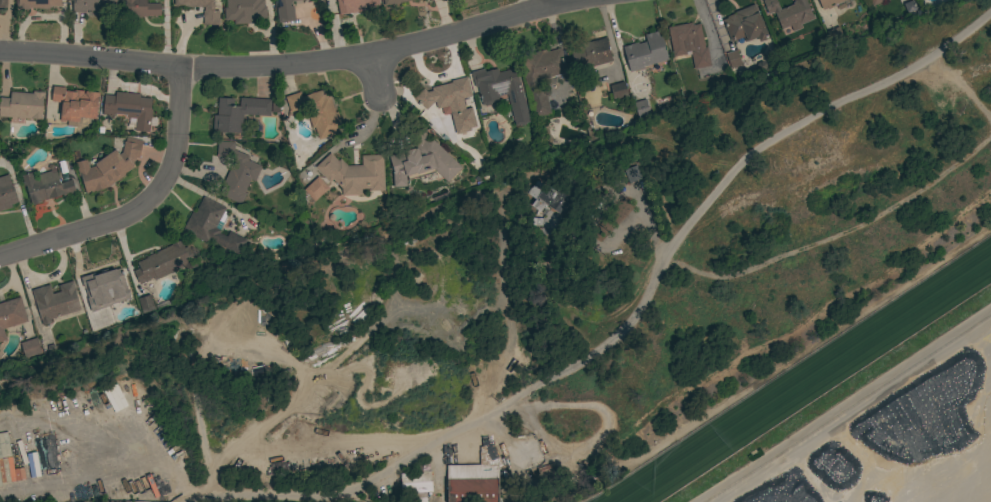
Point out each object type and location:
building: (393, 2)
road: (541, 2)
building: (874, 2)
building: (37, 3)
building: (828, 3)
building: (3, 4)
building: (355, 5)
building: (93, 6)
building: (140, 8)
building: (243, 10)
building: (284, 11)
building: (789, 13)
building: (210, 18)
building: (744, 25)
building: (834, 35)
building: (688, 43)
building: (645, 52)
building: (590, 53)
building: (733, 59)
road: (288, 65)
road: (376, 74)
building: (540, 76)
building: (501, 90)
building: (618, 90)
building: (449, 102)
building: (75, 104)
building: (22, 105)
building: (641, 108)
building: (130, 109)
building: (316, 112)
building: (237, 113)
building: (421, 161)
building: (108, 167)
building: (235, 172)
building: (633, 173)
building: (354, 174)
building: (46, 186)
building: (315, 189)
building: (6, 193)
building: (546, 198)
road: (140, 206)
building: (211, 226)
building: (163, 262)
building: (103, 288)
building: (55, 301)
building: (145, 303)
building: (10, 315)
road: (633, 317)
building: (30, 347)
track: (808, 373)
building: (4, 457)
building: (474, 478)
building: (416, 480)
building: (0, 485)
parking lot: (972, 490)

